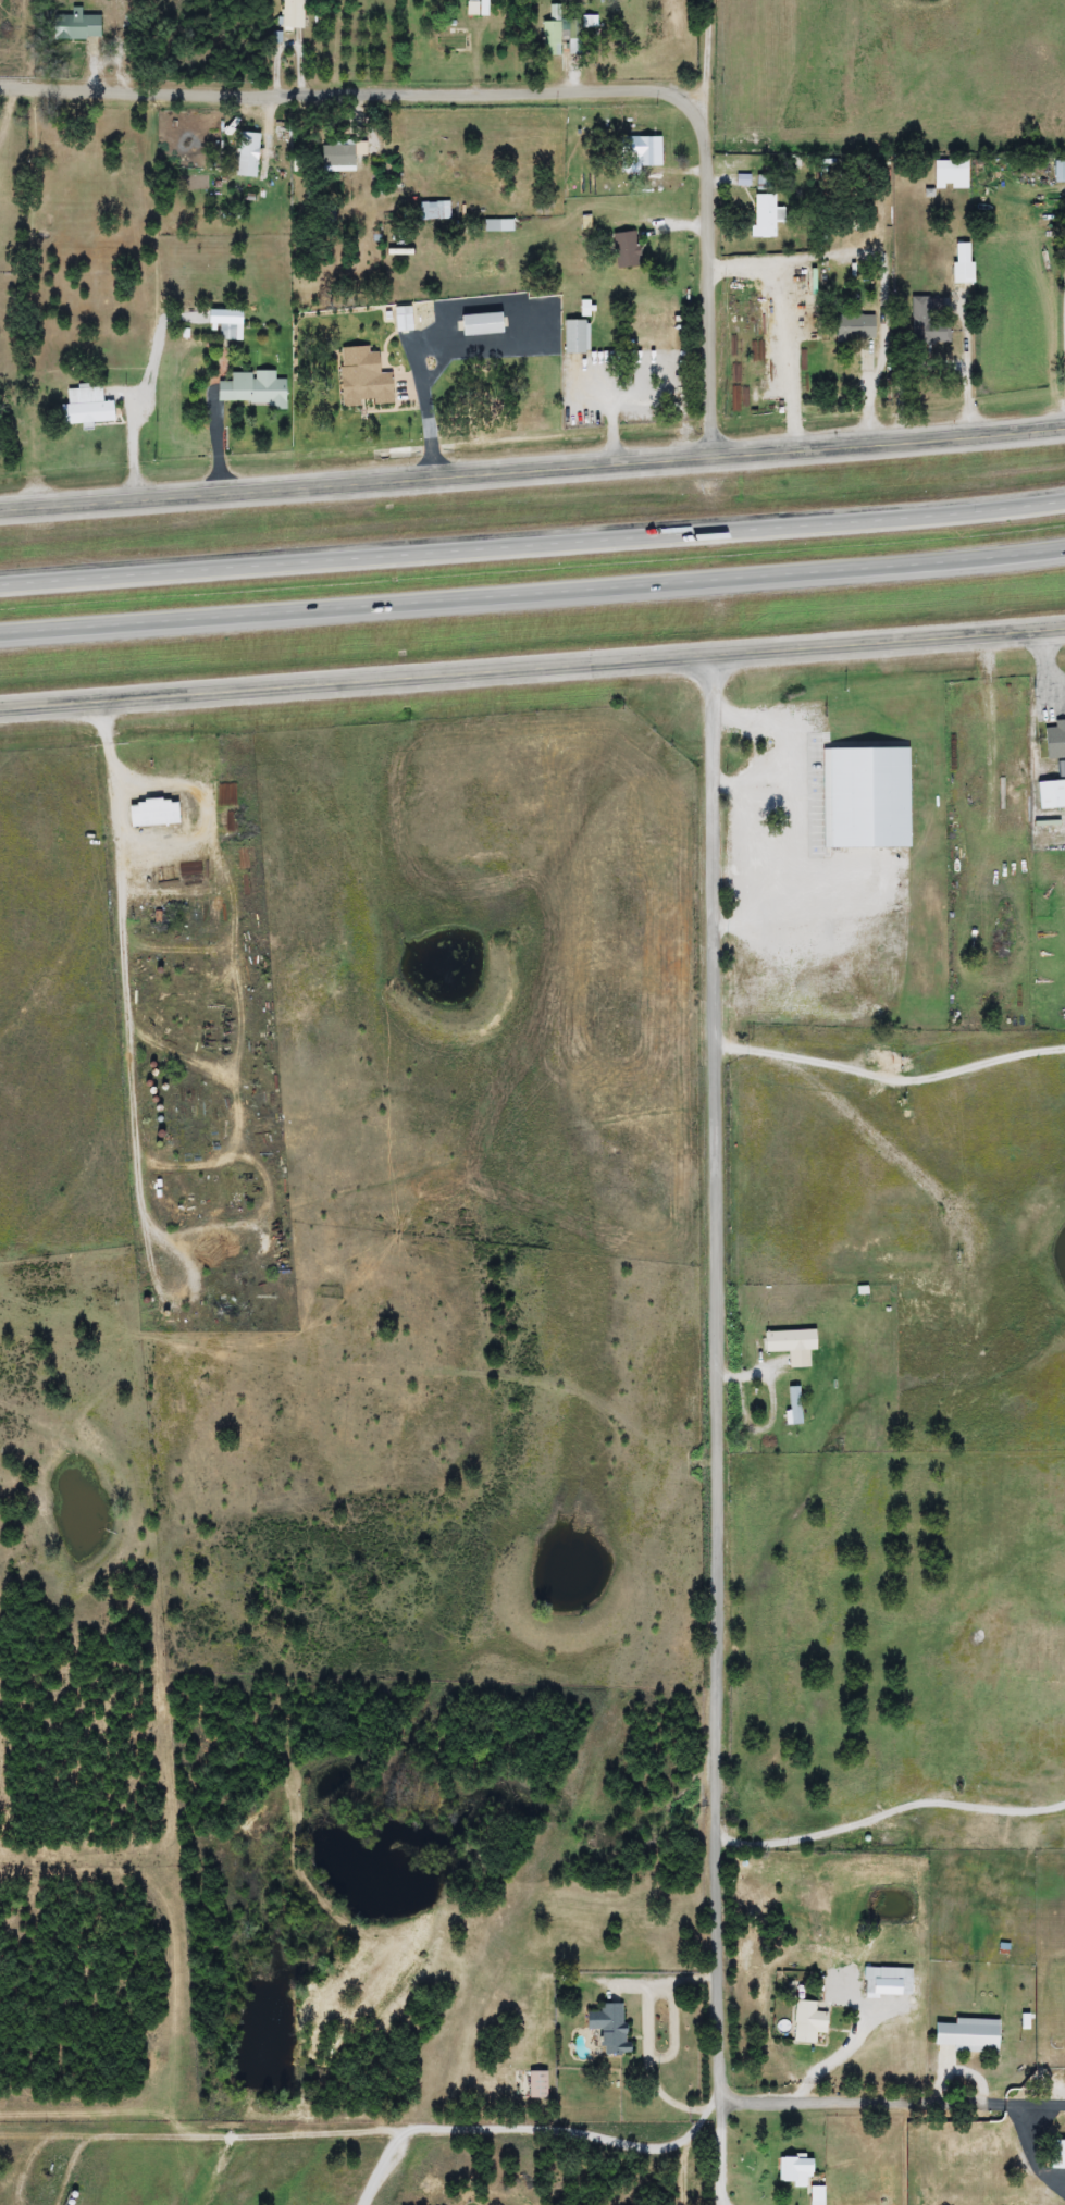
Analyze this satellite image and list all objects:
building: (475, 7)
building: (292, 13)
building: (586, 21)
building: (85, 24)
building: (449, 38)
building: (549, 38)
road: (525, 95)
building: (641, 150)
building: (337, 151)
building: (246, 154)
building: (950, 174)
building: (434, 210)
building: (761, 215)
building: (497, 225)
building: (624, 249)
building: (961, 263)
building: (479, 324)
building: (853, 329)
building: (937, 333)
building: (574, 337)
building: (360, 379)
building: (256, 388)
building: (90, 407)
road: (532, 473)
road: (532, 544)
road: (532, 593)
road: (533, 677)
building: (1054, 738)
building: (1049, 794)
building: (865, 798)
building: (154, 813)
building: (787, 1340)
building: (793, 1404)
road: (731, 1515)
building: (889, 1990)
building: (807, 2022)
building: (608, 2027)
building: (966, 2035)
building: (535, 2084)
building: (971, 2168)
building: (793, 2170)
building: (816, 2195)

